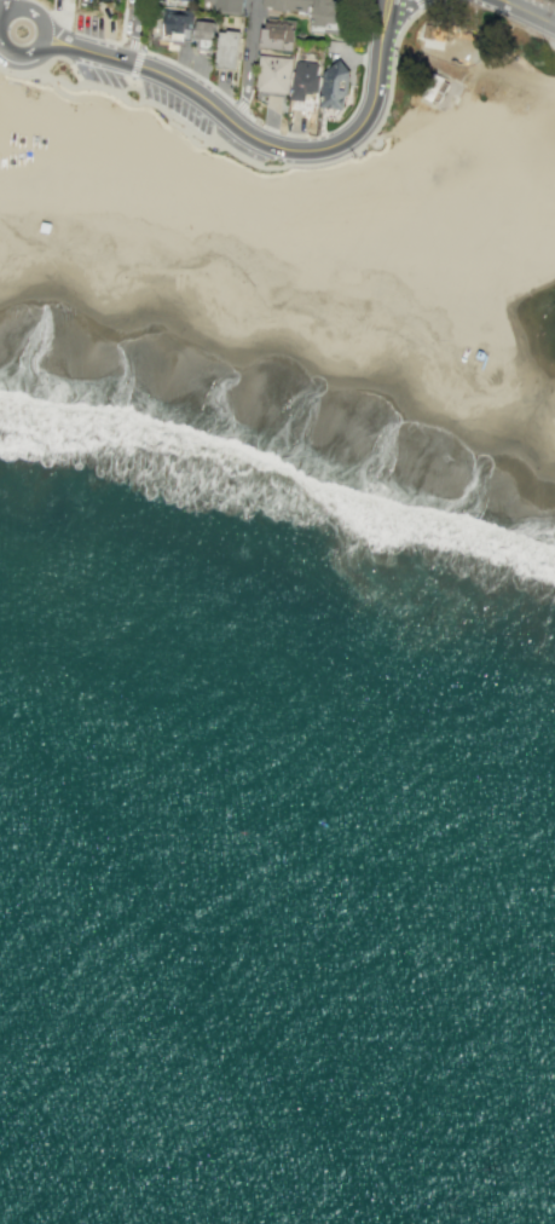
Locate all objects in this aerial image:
building: (181, 1)
road: (12, 2)
building: (274, 4)
road: (418, 4)
building: (222, 5)
road: (6, 6)
road: (0, 7)
road: (530, 11)
building: (320, 13)
road: (39, 16)
road: (395, 17)
road: (553, 17)
road: (386, 19)
road: (121, 21)
building: (175, 24)
road: (133, 29)
building: (428, 30)
building: (278, 33)
building: (203, 35)
road: (131, 44)
building: (226, 48)
road: (27, 52)
road: (63, 58)
road: (135, 62)
road: (247, 62)
road: (187, 70)
building: (273, 73)
building: (305, 81)
building: (334, 83)
road: (127, 86)
building: (429, 87)
road: (138, 90)
road: (75, 97)
road: (245, 131)
road: (375, 138)
road: (247, 160)
building: (464, 283)

